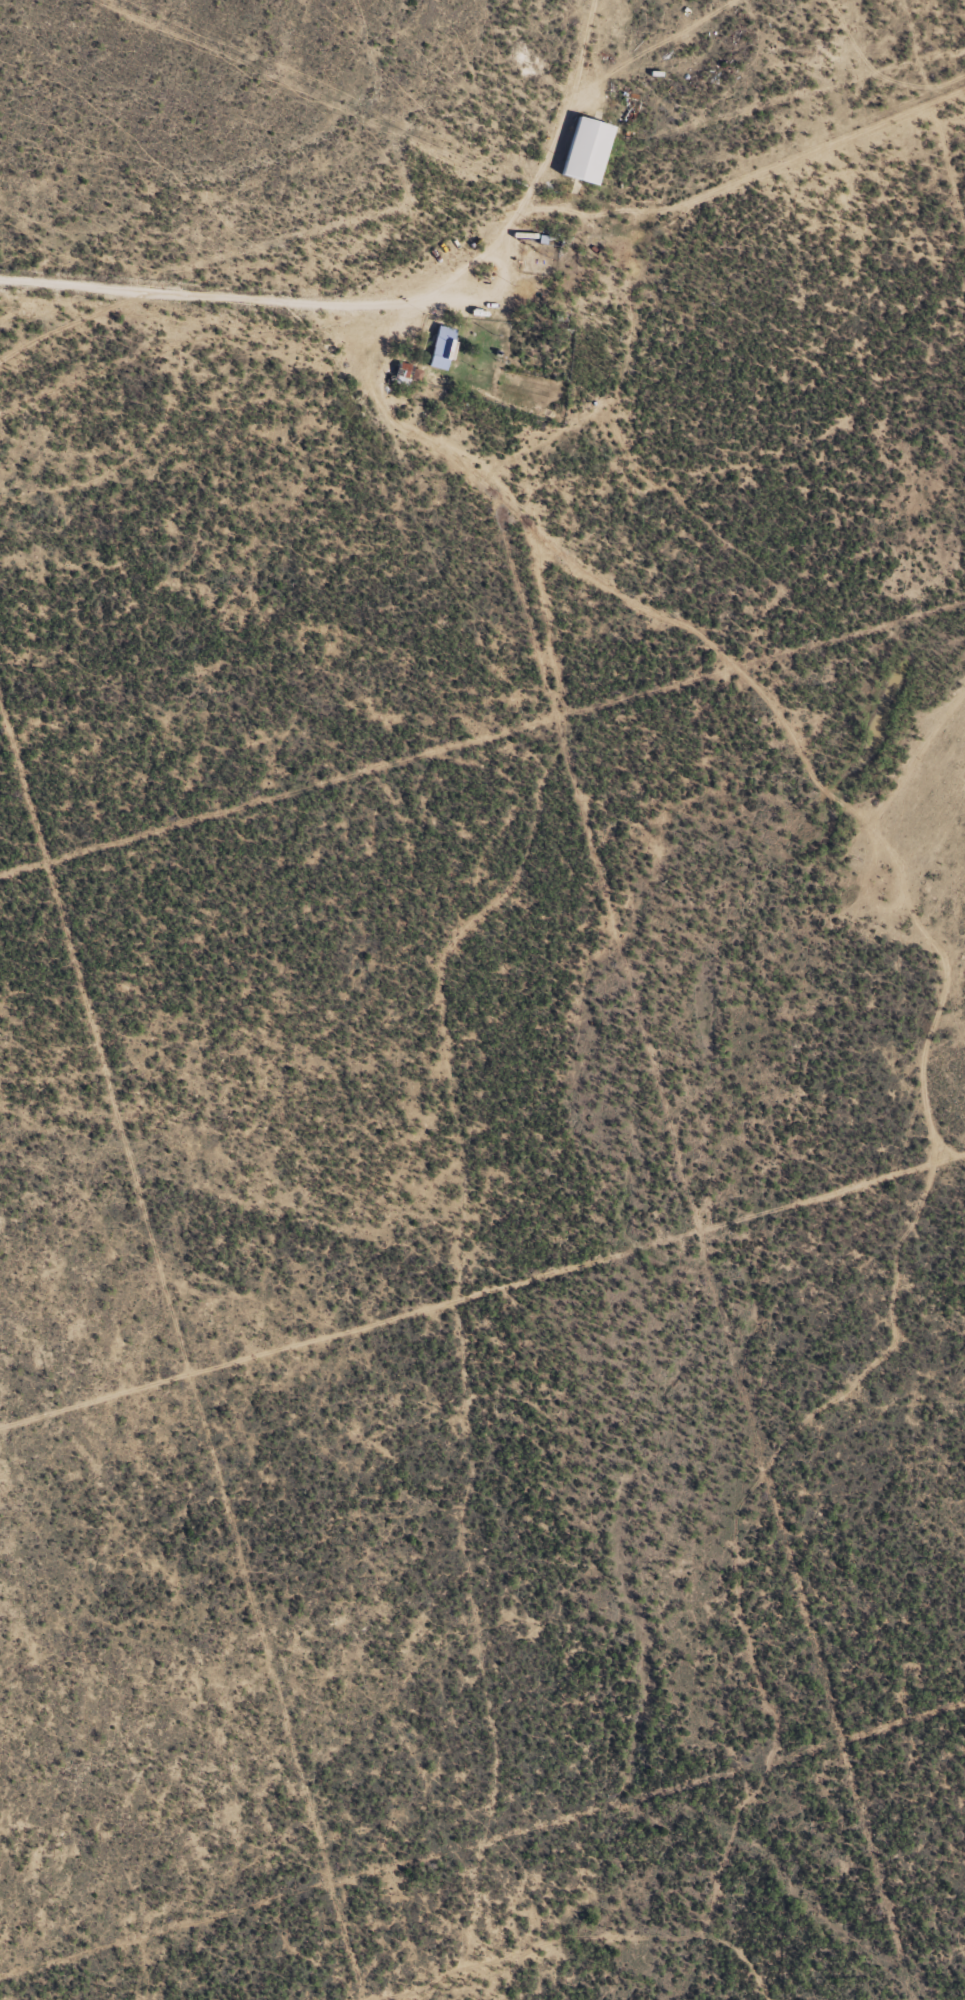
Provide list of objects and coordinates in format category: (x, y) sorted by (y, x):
building: (585, 148)
road: (447, 152)
road: (211, 311)
building: (442, 347)
road: (50, 368)
building: (404, 373)

